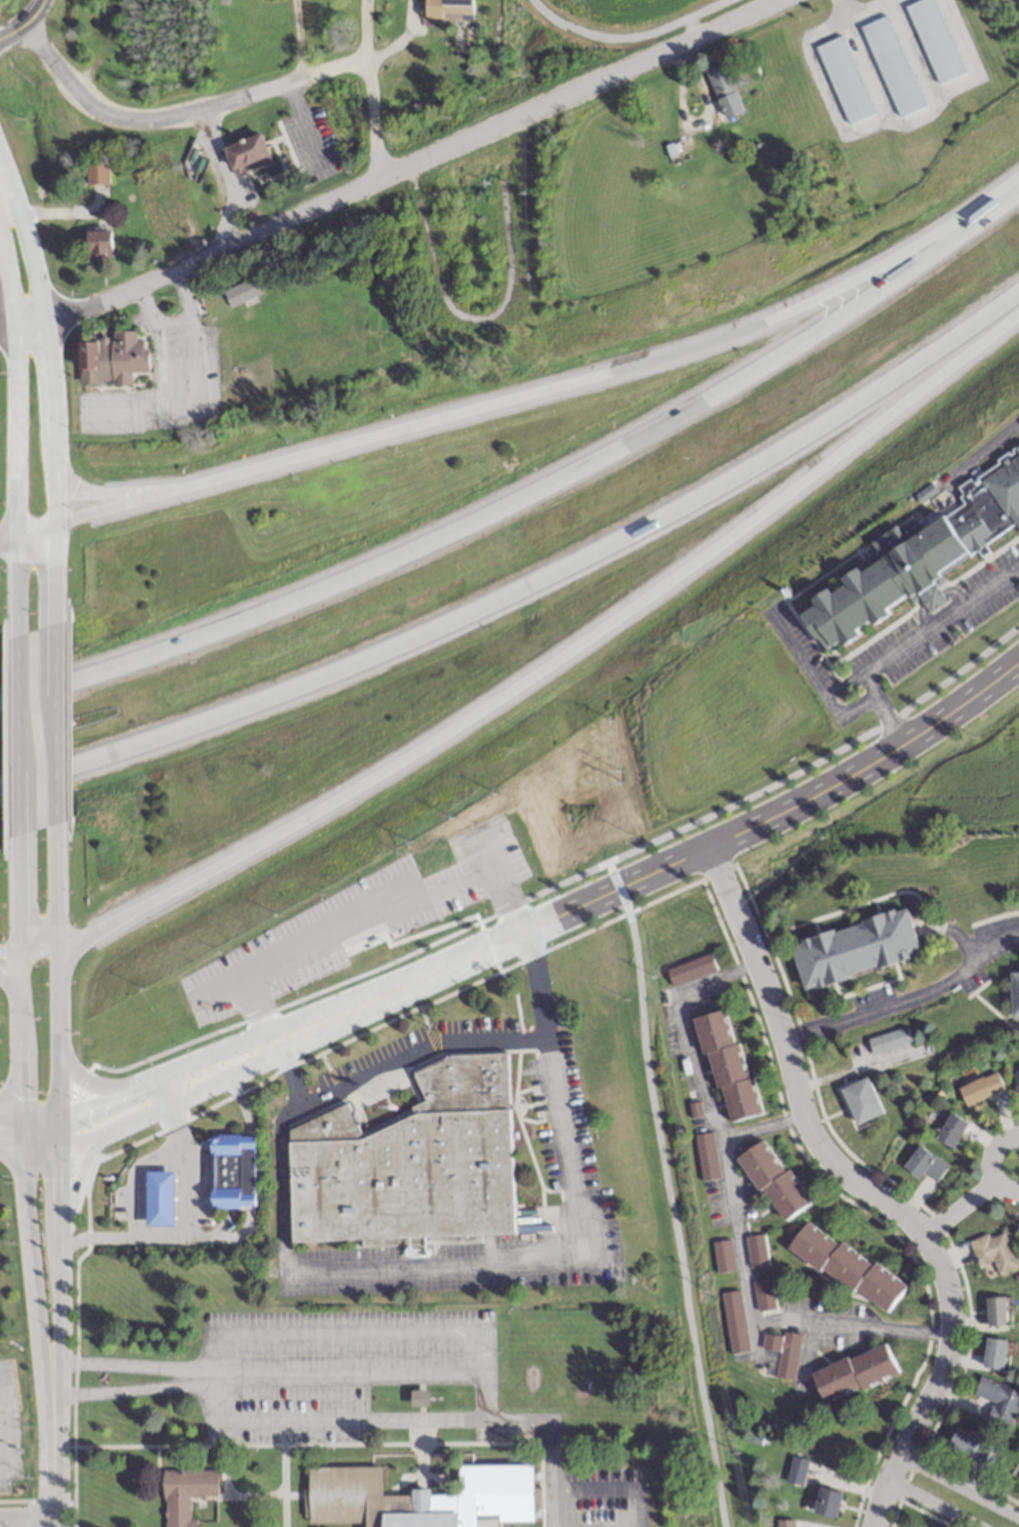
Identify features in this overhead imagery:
crop: (736, 3)
crop: (622, 8)
building: (447, 9)
road: (23, 22)
road: (688, 27)
road: (625, 39)
building: (935, 40)
building: (893, 67)
building: (845, 81)
road: (367, 89)
building: (724, 90)
road: (177, 115)
road: (302, 127)
building: (246, 154)
road: (407, 164)
building: (96, 173)
road: (221, 177)
building: (161, 202)
road: (992, 211)
building: (98, 245)
building: (242, 292)
road: (465, 317)
road: (175, 319)
road: (21, 321)
road: (44, 344)
building: (111, 358)
road: (570, 385)
road: (14, 389)
road: (187, 408)
road: (106, 491)
road: (500, 501)
road: (107, 508)
road: (34, 528)
road: (7, 538)
building: (917, 556)
road: (53, 572)
road: (15, 586)
road: (530, 590)
road: (910, 642)
road: (558, 659)
road: (812, 674)
road: (837, 719)
road: (52, 721)
road: (17, 734)
road: (820, 757)
crop: (961, 777)
road: (823, 784)
road: (479, 846)
road: (54, 883)
road: (555, 886)
road: (501, 895)
road: (565, 908)
road: (19, 916)
parking lot: (355, 920)
road: (325, 929)
road: (953, 929)
building: (853, 949)
road: (28, 951)
building: (690, 970)
road: (11, 986)
road: (395, 986)
building: (1014, 993)
road: (906, 999)
road: (56, 1002)
building: (888, 1040)
road: (418, 1051)
road: (195, 1060)
building: (726, 1065)
road: (209, 1067)
road: (22, 1077)
road: (85, 1082)
road: (59, 1087)
road: (161, 1088)
building: (979, 1088)
building: (1017, 1088)
road: (167, 1099)
building: (860, 1100)
road: (90, 1103)
traffic signals: (24, 1115)
road: (29, 1115)
traffic signals: (60, 1115)
road: (762, 1128)
building: (949, 1129)
road: (59, 1134)
road: (11, 1150)
traffic signals: (22, 1153)
road: (40, 1153)
traffic signals: (59, 1154)
building: (706, 1156)
building: (410, 1162)
building: (923, 1162)
road: (986, 1162)
building: (230, 1170)
building: (772, 1180)
road: (867, 1188)
road: (662, 1194)
road: (70, 1197)
building: (157, 1198)
road: (732, 1207)
road: (959, 1208)
street lamp: (43, 1213)
road: (185, 1229)
building: (755, 1250)
building: (993, 1251)
building: (723, 1256)
road: (487, 1264)
building: (845, 1266)
building: (764, 1295)
building: (996, 1311)
building: (734, 1322)
road: (347, 1331)
road: (37, 1333)
road: (55, 1333)
building: (782, 1352)
building: (993, 1354)
building: (853, 1373)
road: (213, 1380)
building: (998, 1401)
road: (479, 1412)
road: (551, 1441)
building: (971, 1448)
building: (795, 1470)
road: (958, 1486)
building: (1018, 1486)
road: (608, 1490)
building: (184, 1494)
building: (420, 1498)
building: (826, 1502)
road: (931, 1504)
road: (26, 1514)
road: (52, 1520)
building: (783, 1523)

